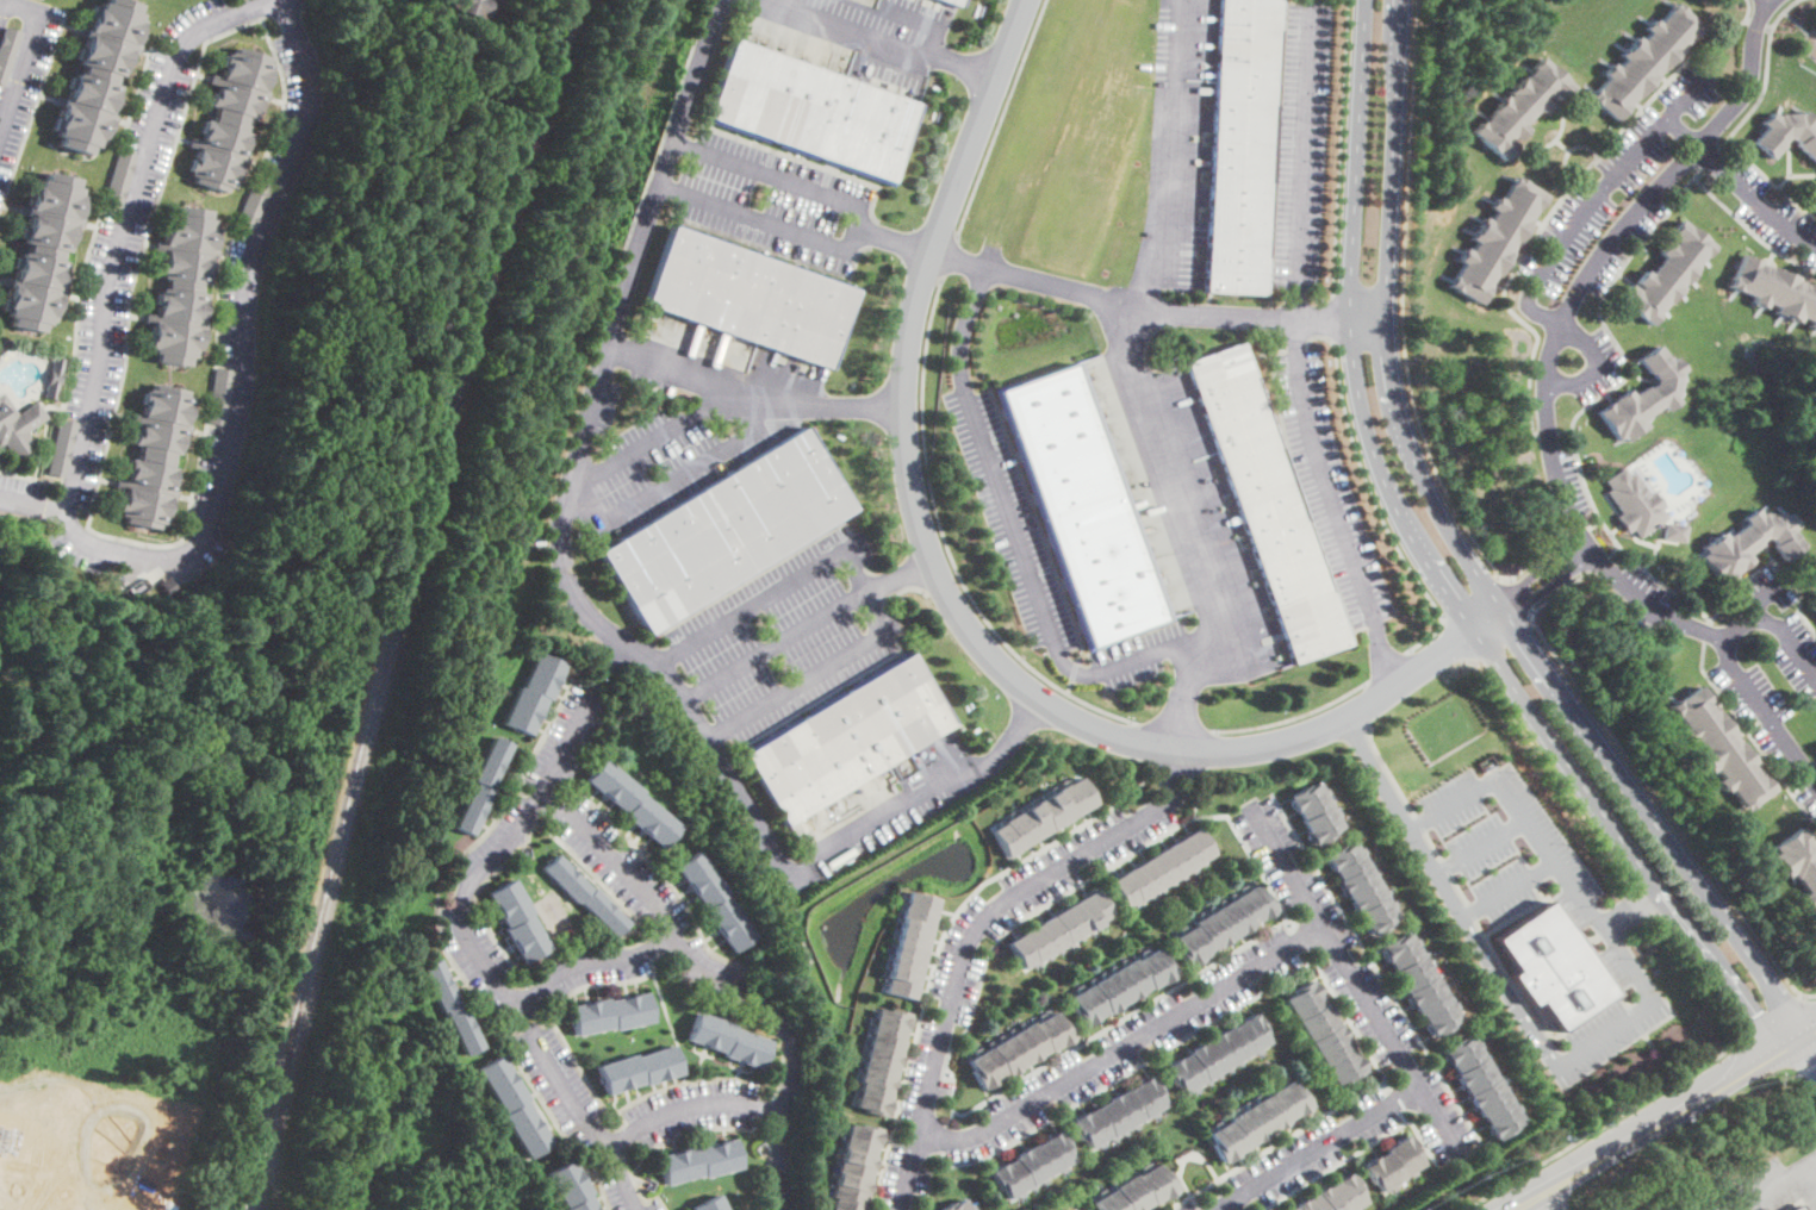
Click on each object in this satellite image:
building: (497, 0)
building: (952, 2)
building: (468, 7)
road: (1747, 10)
parking lot: (869, 25)
road: (891, 37)
building: (7, 51)
road: (1398, 51)
road: (24, 55)
building: (1644, 61)
building: (97, 75)
building: (1520, 108)
building: (811, 112)
road: (1000, 118)
building: (225, 119)
road: (1680, 129)
building: (1787, 133)
parking lot: (1301, 144)
road: (1342, 145)
building: (1242, 146)
road: (1300, 160)
building: (119, 180)
road: (1592, 194)
building: (1812, 197)
parking lot: (773, 199)
road: (1750, 199)
road: (1556, 204)
building: (253, 205)
road: (1388, 211)
road: (122, 224)
road: (856, 226)
road: (1351, 236)
road: (893, 239)
building: (1495, 239)
building: (43, 252)
road: (949, 257)
road: (1161, 258)
building: (1666, 274)
building: (179, 287)
building: (1775, 291)
building: (750, 297)
road: (1401, 305)
road: (1260, 316)
road: (1333, 317)
road: (1560, 326)
road: (1597, 362)
building: (52, 378)
parking lot: (649, 380)
road: (236, 381)
road: (1393, 388)
building: (219, 397)
building: (1643, 397)
road: (816, 403)
road: (707, 404)
building: (17, 426)
road: (1565, 430)
road: (1547, 432)
building: (63, 448)
building: (151, 456)
parking lot: (642, 461)
road: (678, 472)
parking lot: (1330, 488)
building: (1634, 503)
building: (1082, 504)
building: (1268, 504)
road: (1592, 504)
road: (1332, 505)
road: (1377, 510)
parking lot: (1009, 518)
road: (1039, 524)
building: (726, 530)
road: (1182, 531)
building: (1674, 531)
road: (1453, 536)
road: (944, 541)
road: (1016, 543)
building: (1749, 543)
road: (1425, 553)
road: (1540, 559)
building: (0, 563)
road: (863, 579)
road: (1542, 579)
building: (167, 586)
road: (947, 592)
road: (1520, 595)
railway: (396, 600)
road: (1472, 600)
building: (1815, 603)
building: (1814, 606)
road: (591, 615)
road: (803, 624)
road: (1488, 624)
parking lot: (776, 640)
road: (1503, 642)
road: (1455, 643)
parking lot: (1137, 655)
road: (1730, 662)
road: (1388, 668)
road: (1074, 671)
road: (1069, 686)
building: (534, 693)
road: (1293, 718)
road: (1171, 730)
building: (847, 740)
road: (1556, 747)
building: (1721, 749)
road: (1551, 767)
road: (1389, 771)
road: (1647, 784)
building: (481, 786)
building: (633, 803)
building: (1314, 811)
road: (1648, 811)
building: (1043, 815)
road: (1420, 823)
road: (1433, 844)
road: (1481, 847)
parking lot: (1494, 847)
building: (1798, 862)
road: (1448, 866)
building: (1162, 867)
building: (1361, 886)
road: (1506, 886)
road: (1461, 888)
road: (1579, 892)
building: (584, 894)
road: (645, 894)
road: (1447, 894)
road: (1646, 900)
building: (715, 902)
road: (1632, 910)
road: (1473, 911)
building: (518, 921)
building: (1221, 923)
road: (465, 925)
building: (1059, 928)
road: (972, 931)
road: (940, 938)
road: (1644, 941)
building: (910, 943)
road: (1700, 947)
road: (1611, 950)
road: (597, 961)
building: (1553, 967)
road: (1699, 975)
road: (1512, 979)
road: (1355, 980)
road: (1276, 981)
building: (1418, 981)
building: (1119, 985)
road: (1787, 1004)
building: (452, 1006)
parking lot: (1609, 1011)
building: (610, 1013)
road: (1635, 1019)
road: (1750, 1029)
building: (1323, 1031)
road: (1784, 1031)
building: (728, 1041)
road: (1124, 1046)
building: (1019, 1048)
building: (1217, 1053)
road: (1660, 1055)
building: (881, 1060)
road: (1805, 1061)
building: (640, 1069)
building: (1481, 1085)
road: (790, 1092)
road: (985, 1100)
road: (692, 1104)
building: (515, 1106)
building: (1118, 1111)
road: (79, 1117)
building: (1256, 1118)
railway: (279, 1119)
road: (1668, 1121)
road: (1598, 1125)
road: (901, 1128)
road: (118, 1139)
road: (1316, 1148)
road: (1355, 1152)
building: (698, 1162)
building: (1392, 1162)
building: (1032, 1164)
building: (13, 1166)
building: (854, 1167)
road: (1811, 1170)
road: (1771, 1183)
parking lot: (1766, 1186)
building: (571, 1187)
building: (1136, 1190)
building: (1332, 1196)
road: (1556, 1200)
building: (710, 1204)
building: (958, 1205)
building: (119, 1206)
building: (1797, 1208)
building: (1803, 1209)

